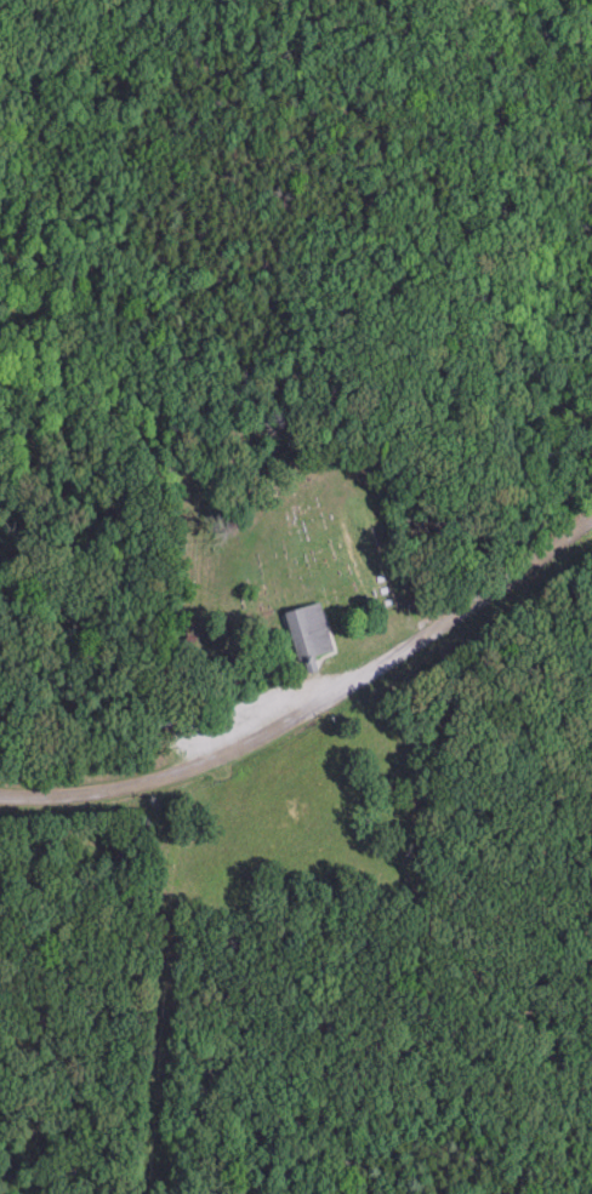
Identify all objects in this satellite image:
park: (267, 533)
building: (312, 633)
road: (314, 708)

